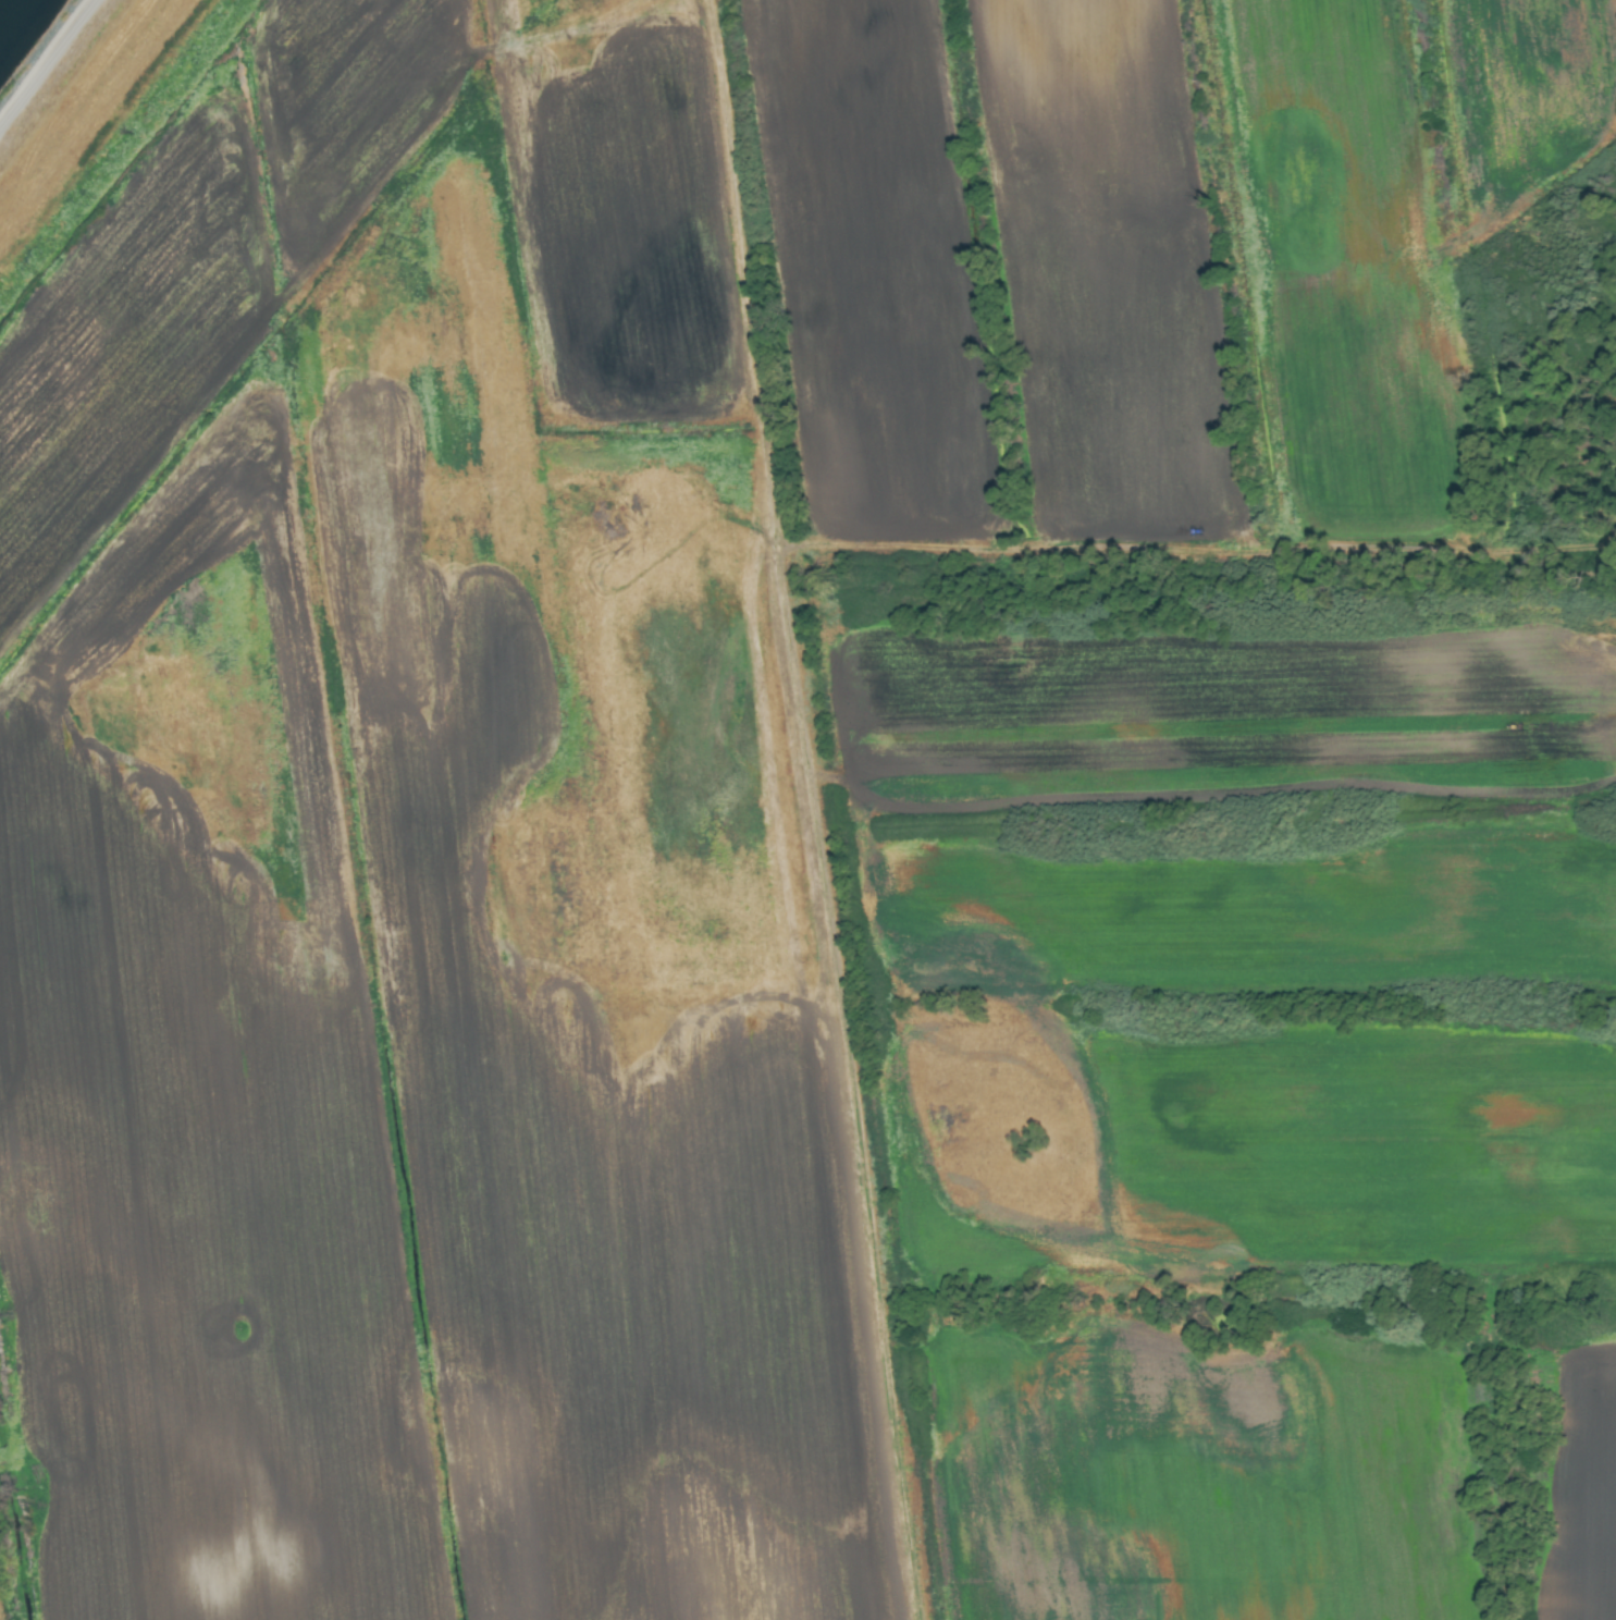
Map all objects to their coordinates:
crop: (813, 815)

